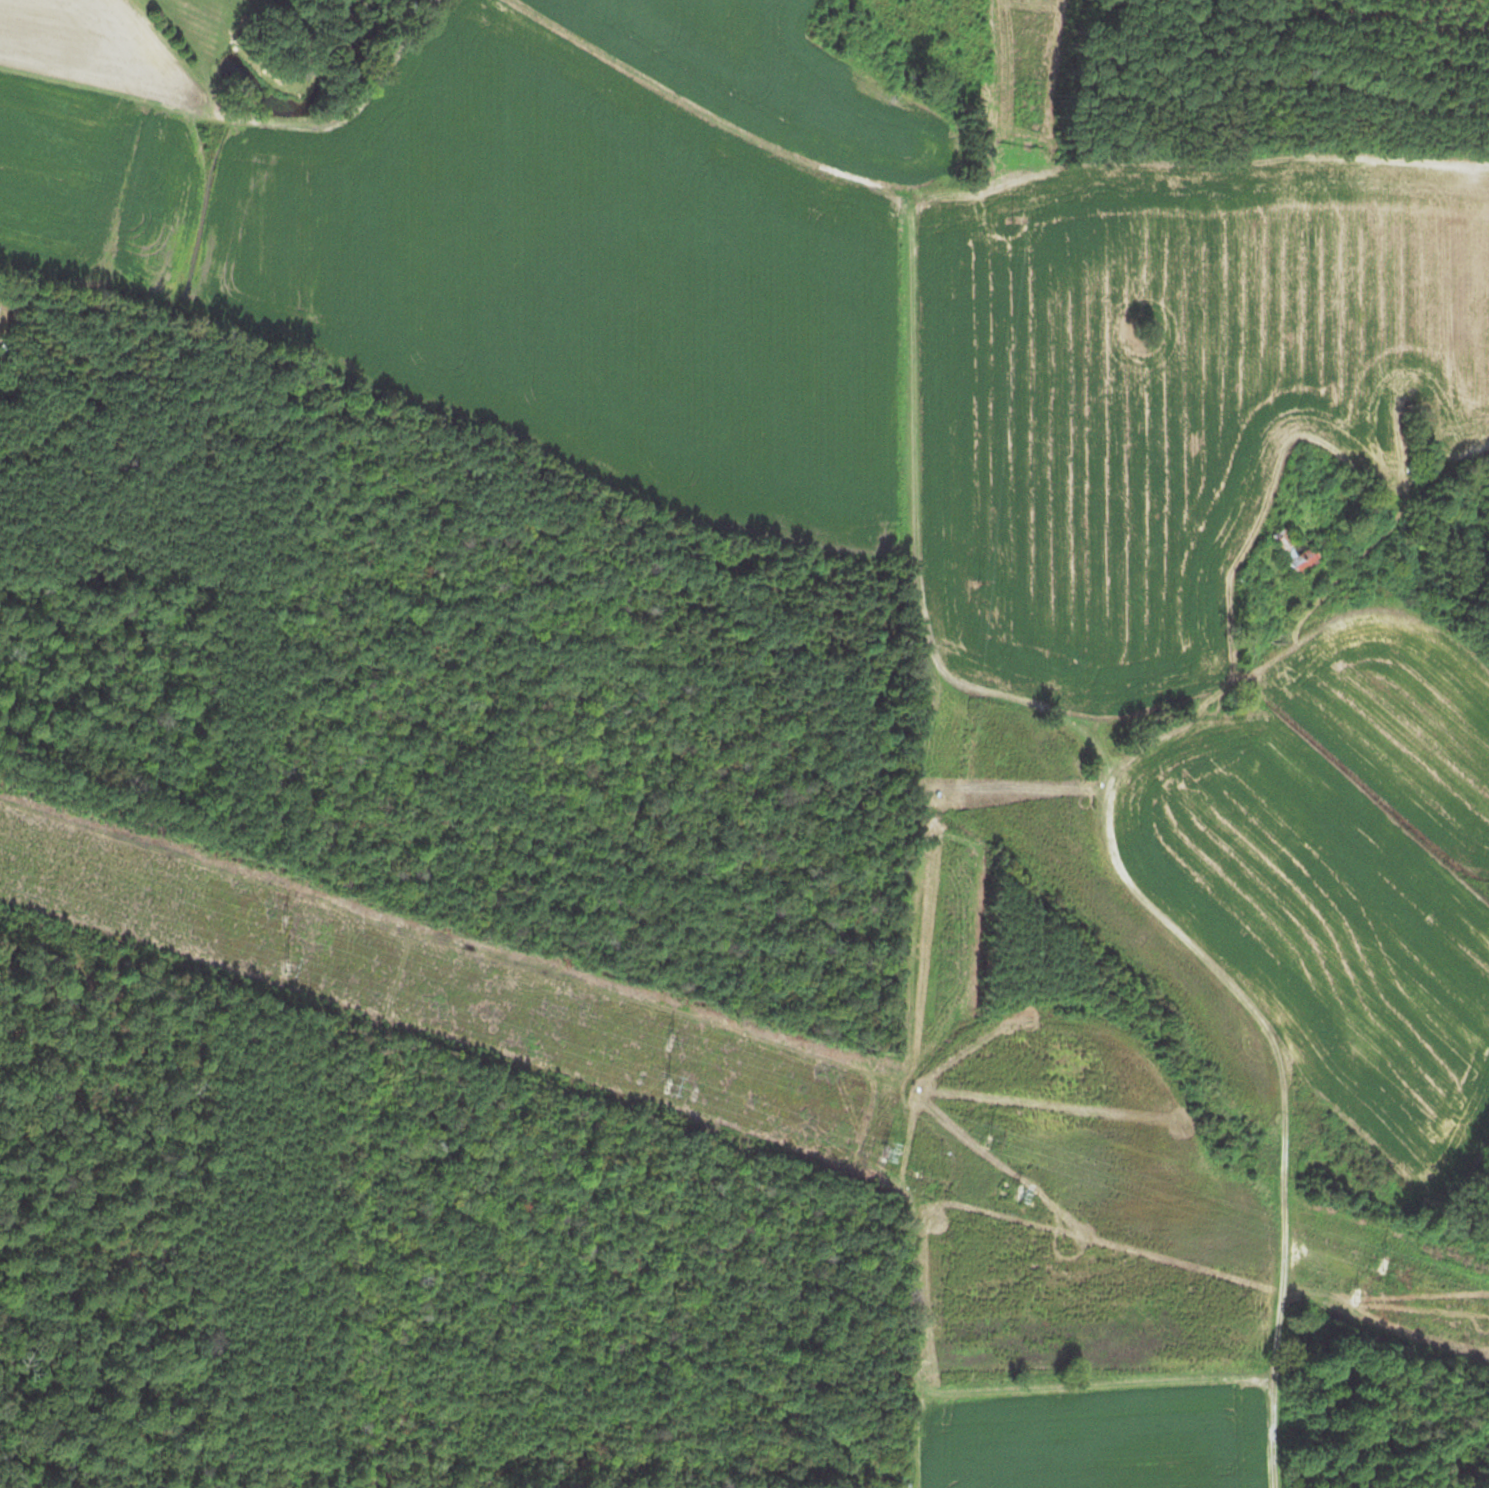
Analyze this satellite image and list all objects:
building: (1291, 551)
power tower: (289, 921)
road: (1246, 1002)
power tower: (669, 1041)
power tower: (986, 1139)
power tower: (1381, 1260)

